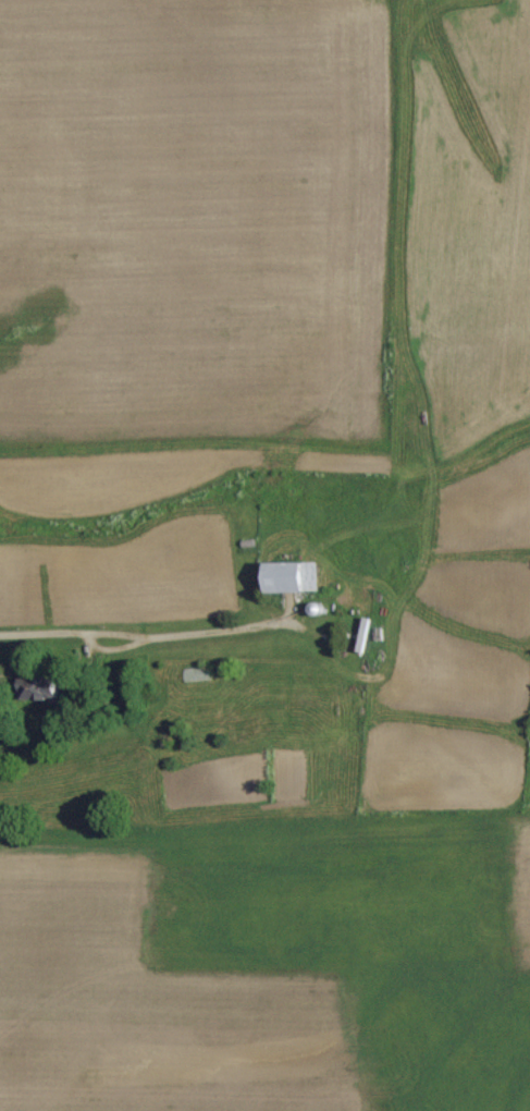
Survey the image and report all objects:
building: (293, 579)
road: (163, 639)
building: (40, 688)

